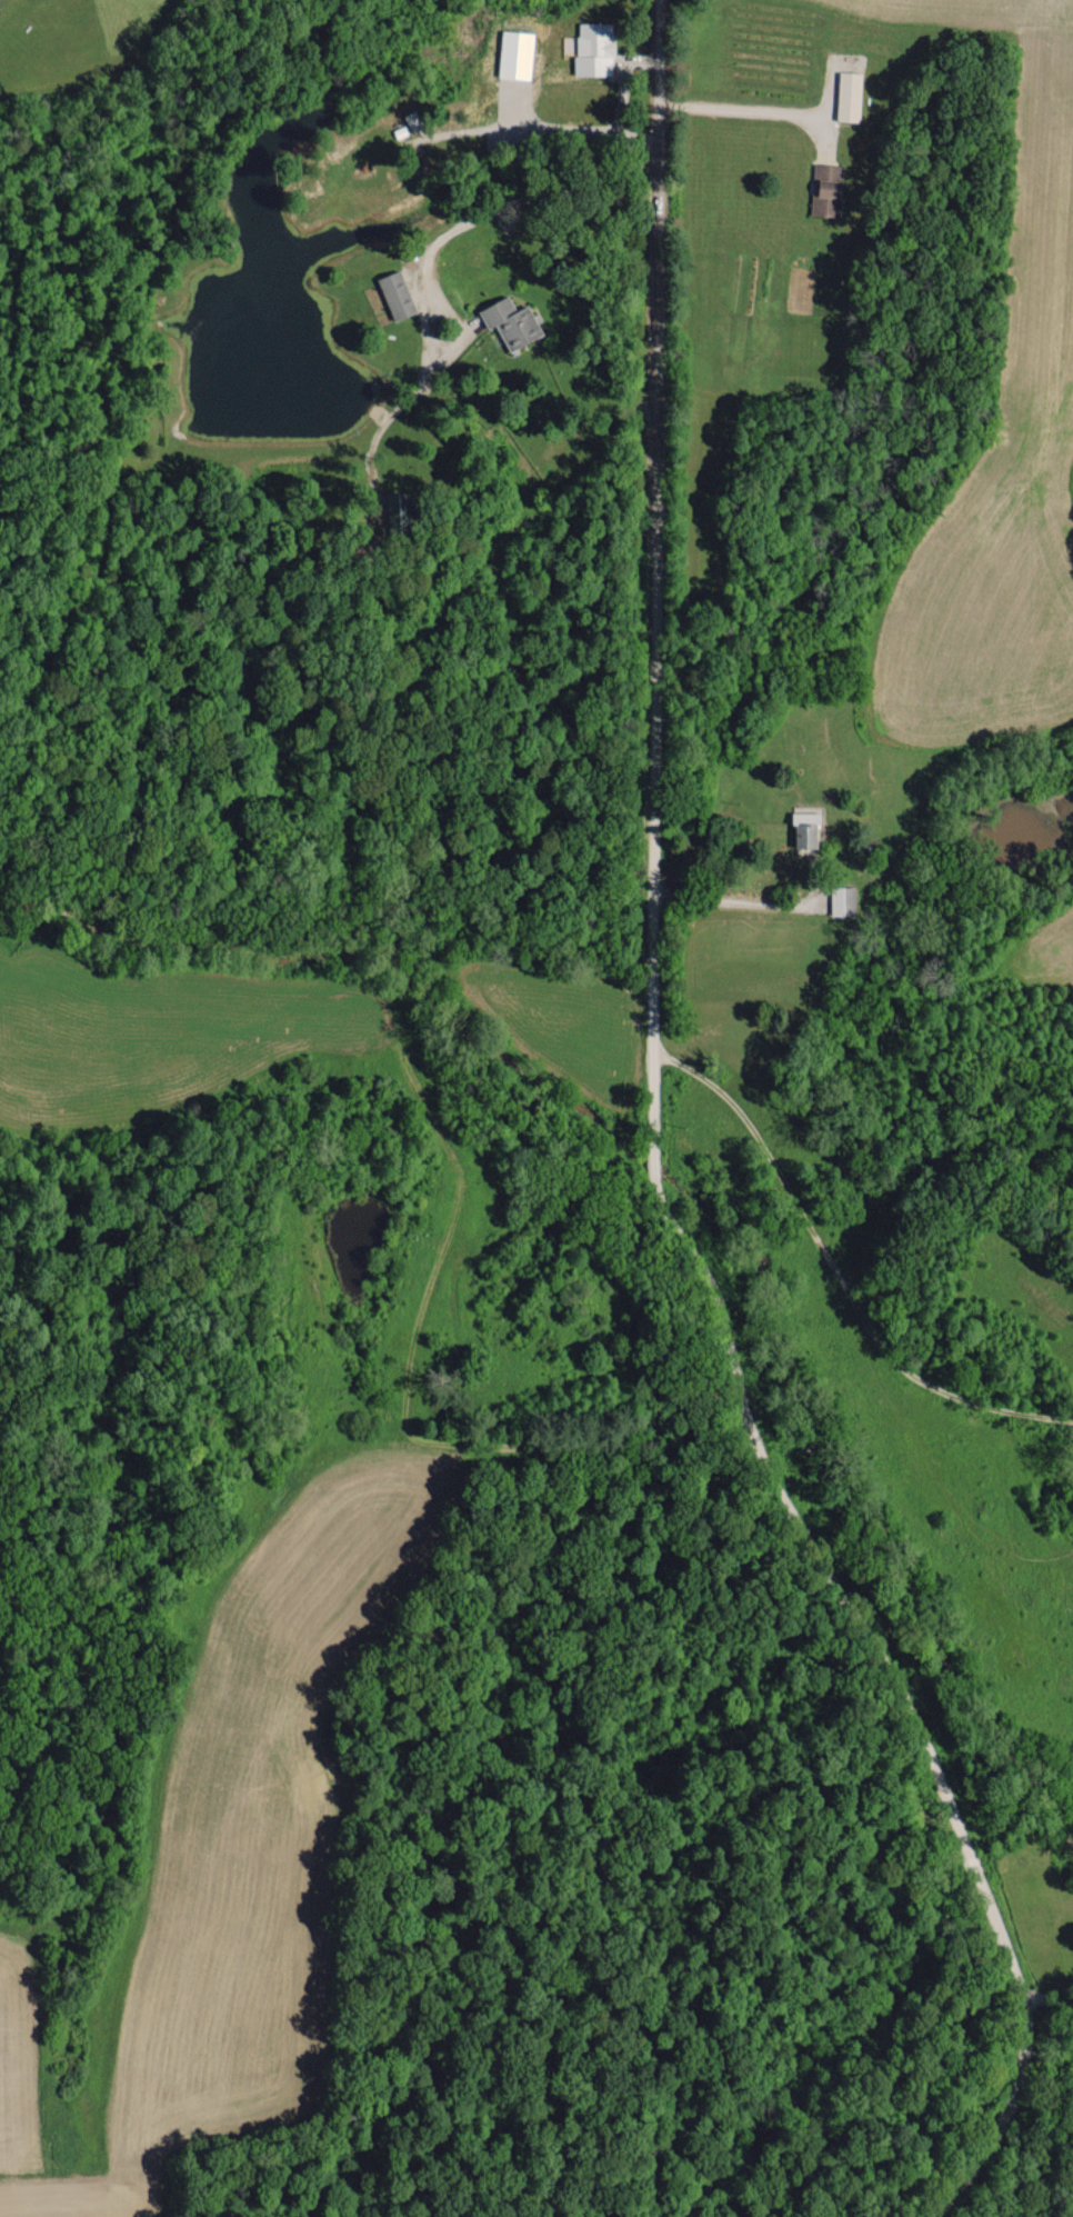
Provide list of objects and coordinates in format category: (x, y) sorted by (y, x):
building: (594, 48)
building: (849, 96)
road: (750, 107)
building: (828, 189)
road: (505, 201)
building: (397, 294)
building: (511, 322)
building: (806, 828)
road: (735, 898)
building: (843, 900)
road: (650, 1168)
road: (835, 1271)
road: (320, 1470)
road: (1050, 2004)

